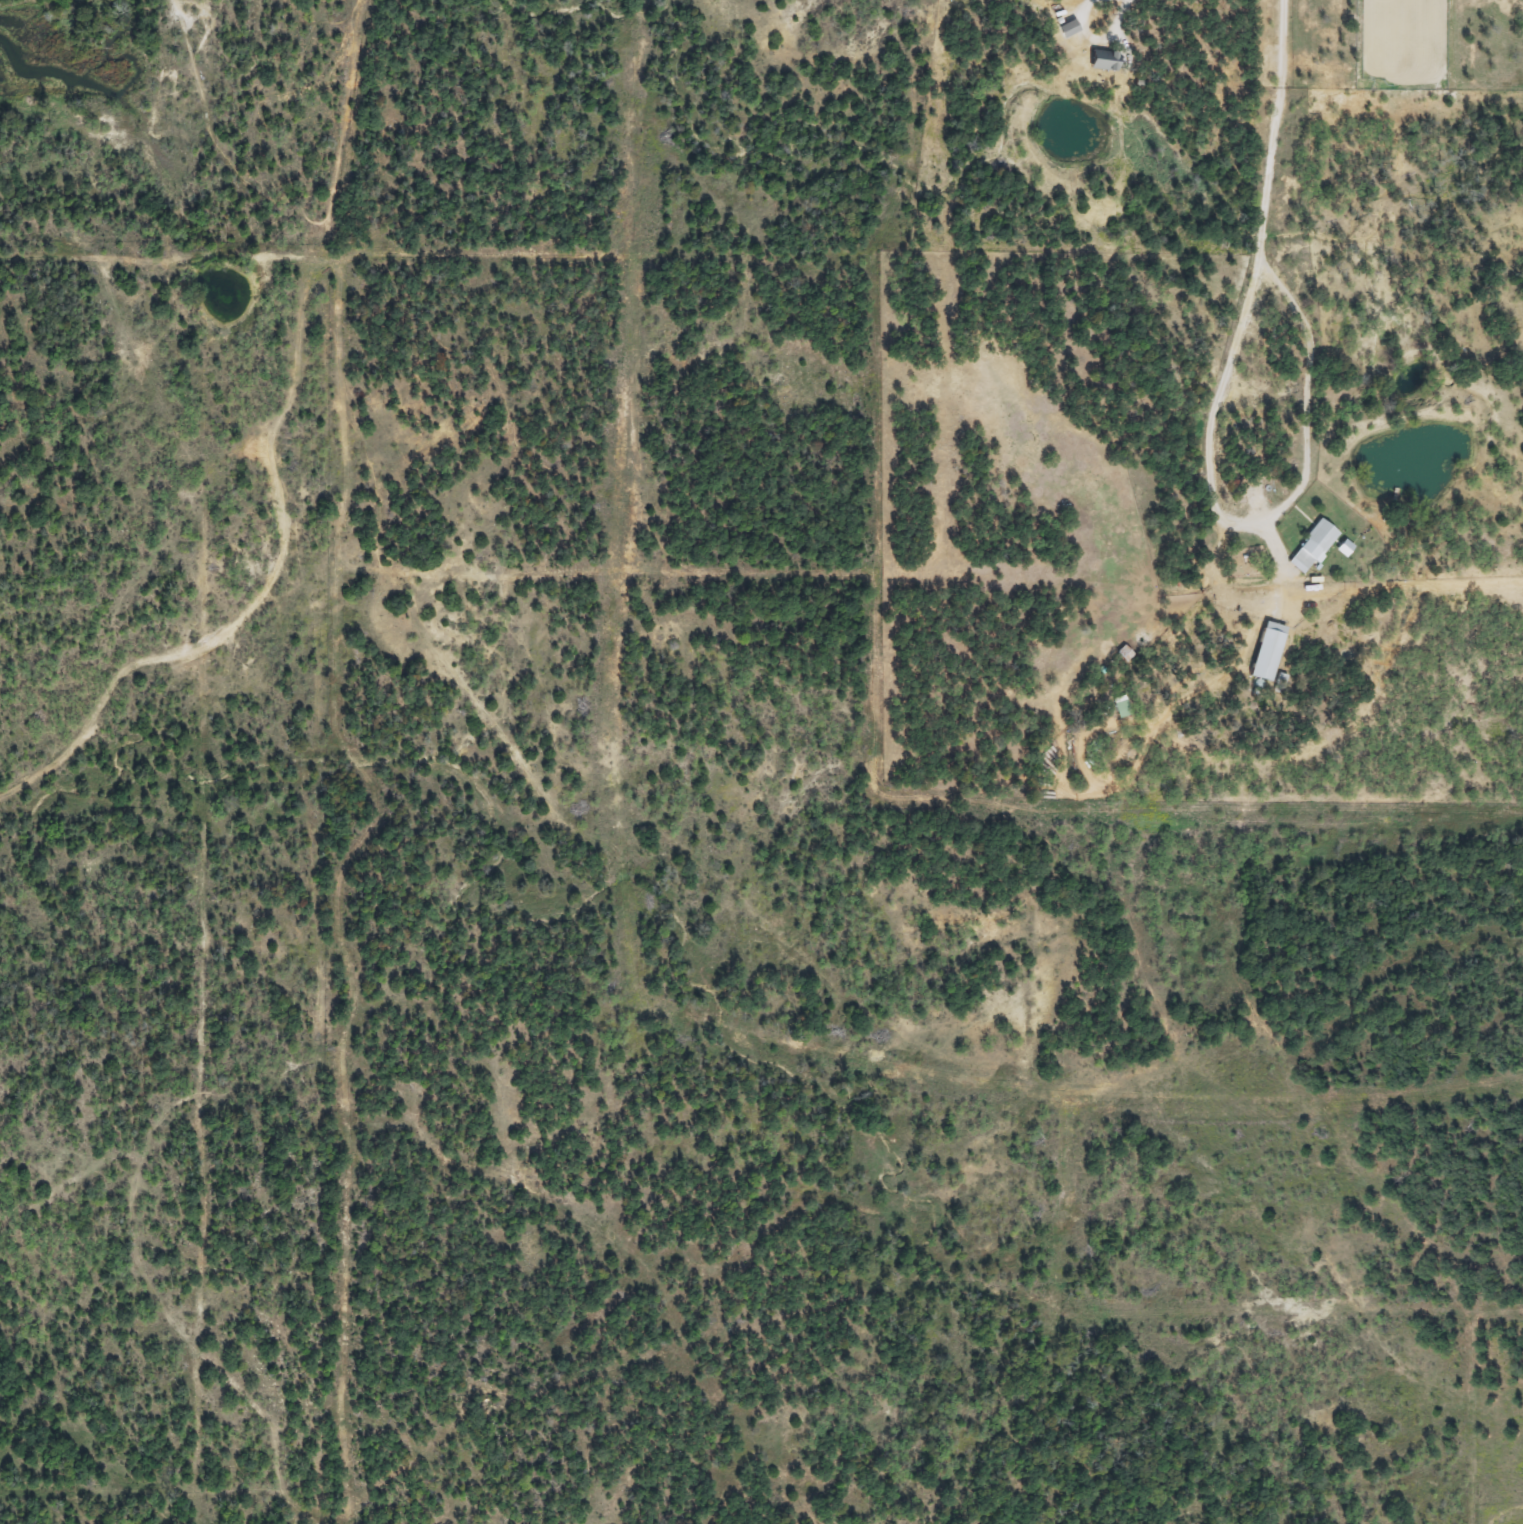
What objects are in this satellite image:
building: (1064, 30)
road: (1090, 38)
building: (1098, 60)
road: (1276, 129)
road: (1258, 523)
building: (1312, 544)
building: (1264, 651)
building: (1119, 707)

